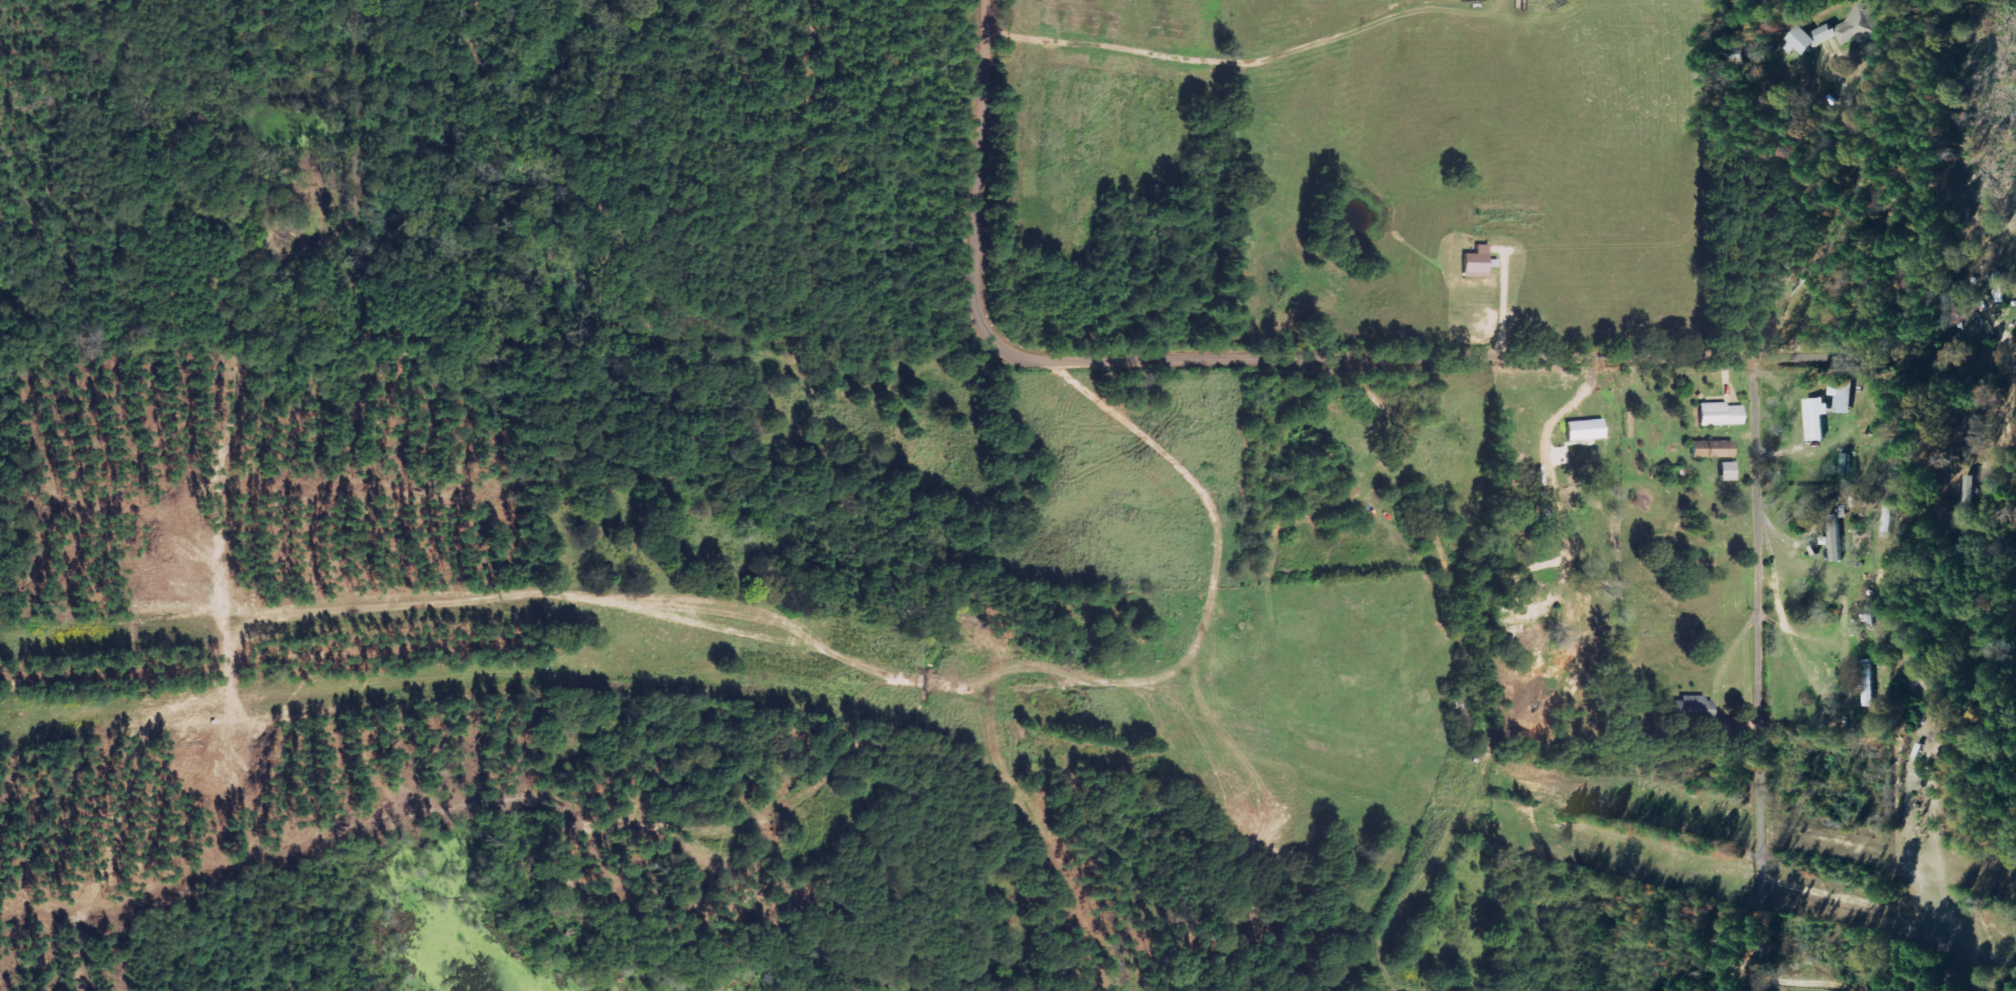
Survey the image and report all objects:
building: (1850, 24)
building: (1797, 40)
road: (982, 153)
road: (1833, 218)
building: (1475, 261)
building: (1995, 286)
road: (1483, 354)
building: (1839, 396)
building: (1719, 414)
building: (1814, 417)
building: (1583, 430)
building: (1711, 449)
building: (1844, 463)
building: (1726, 471)
road: (1757, 624)
building: (1867, 682)
building: (1690, 710)

